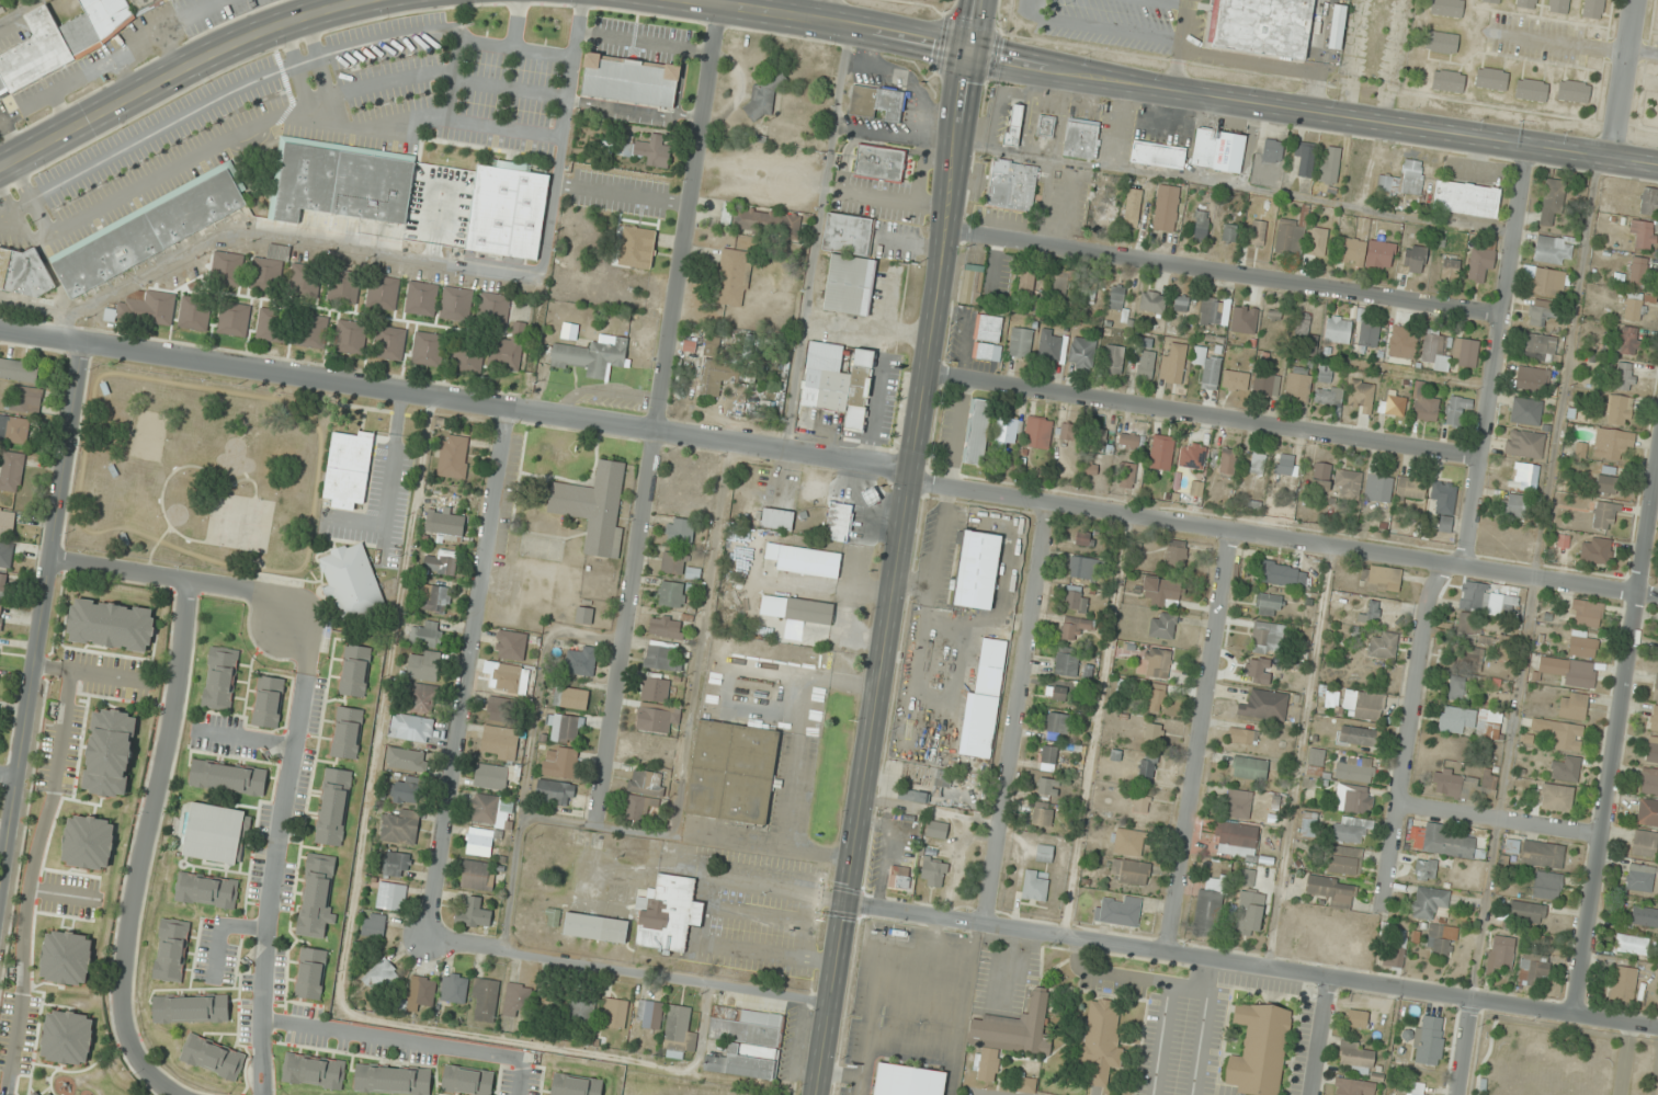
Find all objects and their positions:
building: (1491, 1)
building: (1526, 3)
road: (314, 5)
building: (1558, 5)
building: (1447, 8)
building: (1592, 9)
road: (18, 10)
building: (1264, 25)
building: (1337, 26)
building: (1441, 42)
road: (169, 49)
traffic signals: (970, 50)
road: (122, 53)
road: (174, 71)
road: (123, 76)
road: (1624, 78)
building: (1491, 79)
building: (629, 80)
building: (1447, 80)
road: (1170, 87)
building: (1531, 90)
building: (1572, 91)
building: (763, 96)
building: (876, 102)
road: (59, 111)
building: (1657, 111)
building: (1013, 125)
building: (1046, 126)
building: (1081, 139)
road: (9, 140)
building: (648, 150)
building: (1218, 150)
building: (1272, 150)
building: (1158, 155)
building: (1305, 157)
building: (882, 163)
building: (1329, 164)
building: (1404, 179)
building: (340, 182)
building: (1012, 185)
building: (1466, 198)
building: (1552, 201)
building: (1649, 201)
building: (1166, 208)
building: (507, 210)
building: (1106, 213)
building: (1131, 218)
building: (761, 221)
building: (1201, 225)
building: (1230, 228)
building: (149, 230)
building: (1258, 231)
building: (1644, 233)
building: (1290, 236)
building: (1318, 241)
building: (637, 247)
building: (1553, 250)
building: (1365, 253)
building: (1415, 259)
building: (1481, 263)
building: (849, 264)
building: (1450, 267)
building: (227, 269)
building: (269, 270)
building: (22, 271)
building: (1638, 271)
road: (1225, 274)
building: (733, 277)
building: (1545, 280)
building: (305, 281)
building: (1026, 283)
building: (1061, 283)
building: (970, 284)
building: (343, 286)
building: (1088, 289)
building: (385, 293)
building: (1116, 297)
building: (419, 298)
building: (455, 300)
building: (1152, 301)
building: (1181, 304)
building: (138, 307)
building: (1634, 307)
building: (493, 309)
building: (1215, 311)
building: (1540, 311)
building: (194, 312)
building: (1274, 315)
building: (234, 319)
building: (1245, 319)
building: (1302, 323)
building: (272, 326)
building: (988, 328)
building: (1338, 330)
building: (313, 331)
building: (1369, 334)
building: (349, 337)
building: (1628, 341)
building: (387, 342)
building: (1020, 342)
building: (1403, 343)
building: (1538, 344)
building: (1052, 346)
building: (428, 349)
building: (1435, 351)
building: (987, 352)
building: (1465, 352)
building: (506, 353)
building: (1082, 353)
building: (467, 357)
building: (592, 357)
building: (1113, 358)
building: (1147, 362)
building: (1173, 363)
building: (1207, 367)
building: (19, 369)
building: (1325, 374)
building: (714, 376)
building: (1623, 376)
building: (1530, 378)
building: (1235, 380)
building: (1297, 384)
building: (1262, 385)
building: (839, 387)
building: (1328, 395)
building: (1361, 396)
building: (23, 398)
road: (456, 399)
building: (1395, 402)
building: (1423, 403)
building: (886, 404)
road: (659, 407)
building: (1456, 409)
building: (1619, 410)
building: (1525, 411)
road: (1204, 415)
building: (14, 430)
building: (851, 430)
building: (978, 431)
building: (1070, 432)
building: (1007, 433)
building: (1037, 433)
building: (1099, 440)
building: (1129, 441)
building: (1524, 444)
building: (1611, 444)
building: (453, 456)
building: (1192, 457)
building: (1227, 463)
building: (1259, 463)
building: (1284, 466)
building: (348, 468)
building: (11, 470)
park: (197, 471)
building: (1126, 475)
building: (1525, 476)
building: (1320, 477)
building: (1606, 480)
building: (1348, 483)
building: (1378, 487)
building: (1411, 488)
building: (870, 497)
building: (1443, 503)
building: (1513, 504)
building: (594, 506)
building: (1604, 515)
building: (770, 517)
building: (7, 522)
building: (838, 522)
building: (445, 523)
road: (1469, 528)
building: (680, 532)
building: (1083, 539)
road: (1283, 539)
road: (899, 547)
building: (1595, 550)
building: (1178, 552)
building: (5, 555)
building: (805, 560)
building: (442, 562)
building: (674, 563)
building: (1081, 567)
building: (977, 570)
building: (1282, 573)
road: (1532, 577)
road: (178, 578)
building: (1382, 579)
building: (351, 582)
building: (2, 585)
building: (1162, 592)
building: (672, 594)
building: (436, 598)
building: (1076, 600)
building: (1485, 600)
building: (1268, 604)
building: (796, 608)
road: (39, 609)
building: (1373, 612)
building: (1586, 613)
building: (0, 615)
building: (583, 615)
building: (111, 625)
building: (1162, 625)
building: (667, 627)
building: (1075, 627)
building: (1472, 629)
building: (427, 635)
building: (1267, 638)
building: (1582, 643)
building: (1383, 645)
building: (511, 646)
building: (663, 655)
building: (1469, 659)
building: (580, 661)
building: (1159, 662)
building: (1066, 663)
building: (424, 665)
building: (355, 671)
road: (468, 671)
building: (1257, 671)
building: (1569, 671)
building: (508, 676)
building: (220, 677)
building: (1456, 687)
building: (657, 689)
building: (1655, 689)
building: (1058, 693)
building: (569, 697)
building: (1157, 697)
building: (423, 698)
building: (268, 702)
building: (984, 702)
building: (1264, 705)
building: (1572, 705)
building: (1369, 706)
building: (504, 709)
road: (1017, 715)
building: (657, 717)
building: (1654, 718)
building: (1470, 721)
building: (1057, 725)
road: (1094, 726)
building: (412, 727)
building: (564, 728)
building: (347, 732)
building: (1154, 732)
building: (1564, 734)
building: (1242, 735)
building: (1358, 735)
road: (1614, 739)
road: (1199, 741)
building: (499, 742)
building: (1653, 750)
building: (110, 752)
building: (1048, 754)
road: (1298, 756)
building: (407, 760)
building: (1316, 761)
building: (559, 762)
building: (1148, 765)
building: (1249, 767)
building: (1355, 768)
building: (1565, 768)
building: (733, 772)
road: (8, 775)
building: (492, 776)
building: (228, 777)
building: (1649, 780)
building: (647, 782)
building: (941, 783)
building: (1465, 784)
building: (1047, 786)
building: (554, 791)
building: (407, 792)
building: (1556, 797)
building: (1353, 798)
road: (151, 802)
building: (1138, 802)
building: (1238, 803)
building: (333, 806)
building: (485, 808)
building: (1647, 812)
building: (1043, 814)
road: (1499, 820)
building: (1308, 822)
building: (400, 826)
building: (1350, 829)
building: (938, 830)
building: (214, 833)
building: (1236, 840)
building: (88, 842)
building: (480, 842)
building: (1126, 842)
building: (1440, 842)
building: (1645, 843)
road: (277, 849)
building: (1044, 853)
building: (1543, 854)
building: (1344, 859)
building: (397, 864)
building: (1426, 868)
building: (1129, 871)
building: (933, 872)
building: (477, 876)
building: (899, 877)
building: (1639, 877)
building: (1035, 885)
building: (1547, 885)
building: (206, 890)
building: (1331, 891)
building: (617, 893)
building: (317, 896)
building: (391, 896)
building: (1430, 902)
traffic signals: (845, 903)
building: (1210, 906)
building: (1117, 911)
building: (1525, 911)
building: (668, 913)
building: (1250, 913)
building: (1643, 915)
building: (374, 925)
building: (595, 927)
building: (1310, 928)
building: (1441, 939)
building: (1632, 944)
building: (1396, 948)
building: (171, 949)
building: (1331, 949)
building: (1500, 953)
building: (66, 957)
road: (1251, 965)
road: (631, 970)
building: (1533, 971)
building: (310, 973)
building: (382, 977)
building: (1623, 983)
building: (454, 988)
building: (422, 992)
building: (485, 999)
building: (515, 1000)
building: (546, 1001)
building: (191, 1008)
building: (581, 1011)
building: (614, 1012)
building: (649, 1014)
building: (1356, 1018)
parking lot: (1215, 1029)
building: (678, 1033)
building: (1009, 1036)
road: (1319, 1036)
building: (67, 1037)
building: (1429, 1039)
building: (1100, 1040)
building: (746, 1041)
road: (1464, 1048)
building: (1259, 1049)
building: (213, 1057)
building: (1355, 1057)
park: (1560, 1059)
road: (1624, 1059)
road: (143, 1064)
building: (314, 1071)
building: (393, 1080)
building: (467, 1080)
building: (907, 1081)
building: (576, 1084)
building: (1026, 1084)
building: (1355, 1087)
building: (1416, 1088)
parking lot: (984, 1091)
building: (35, 1094)
building: (52, 1094)

